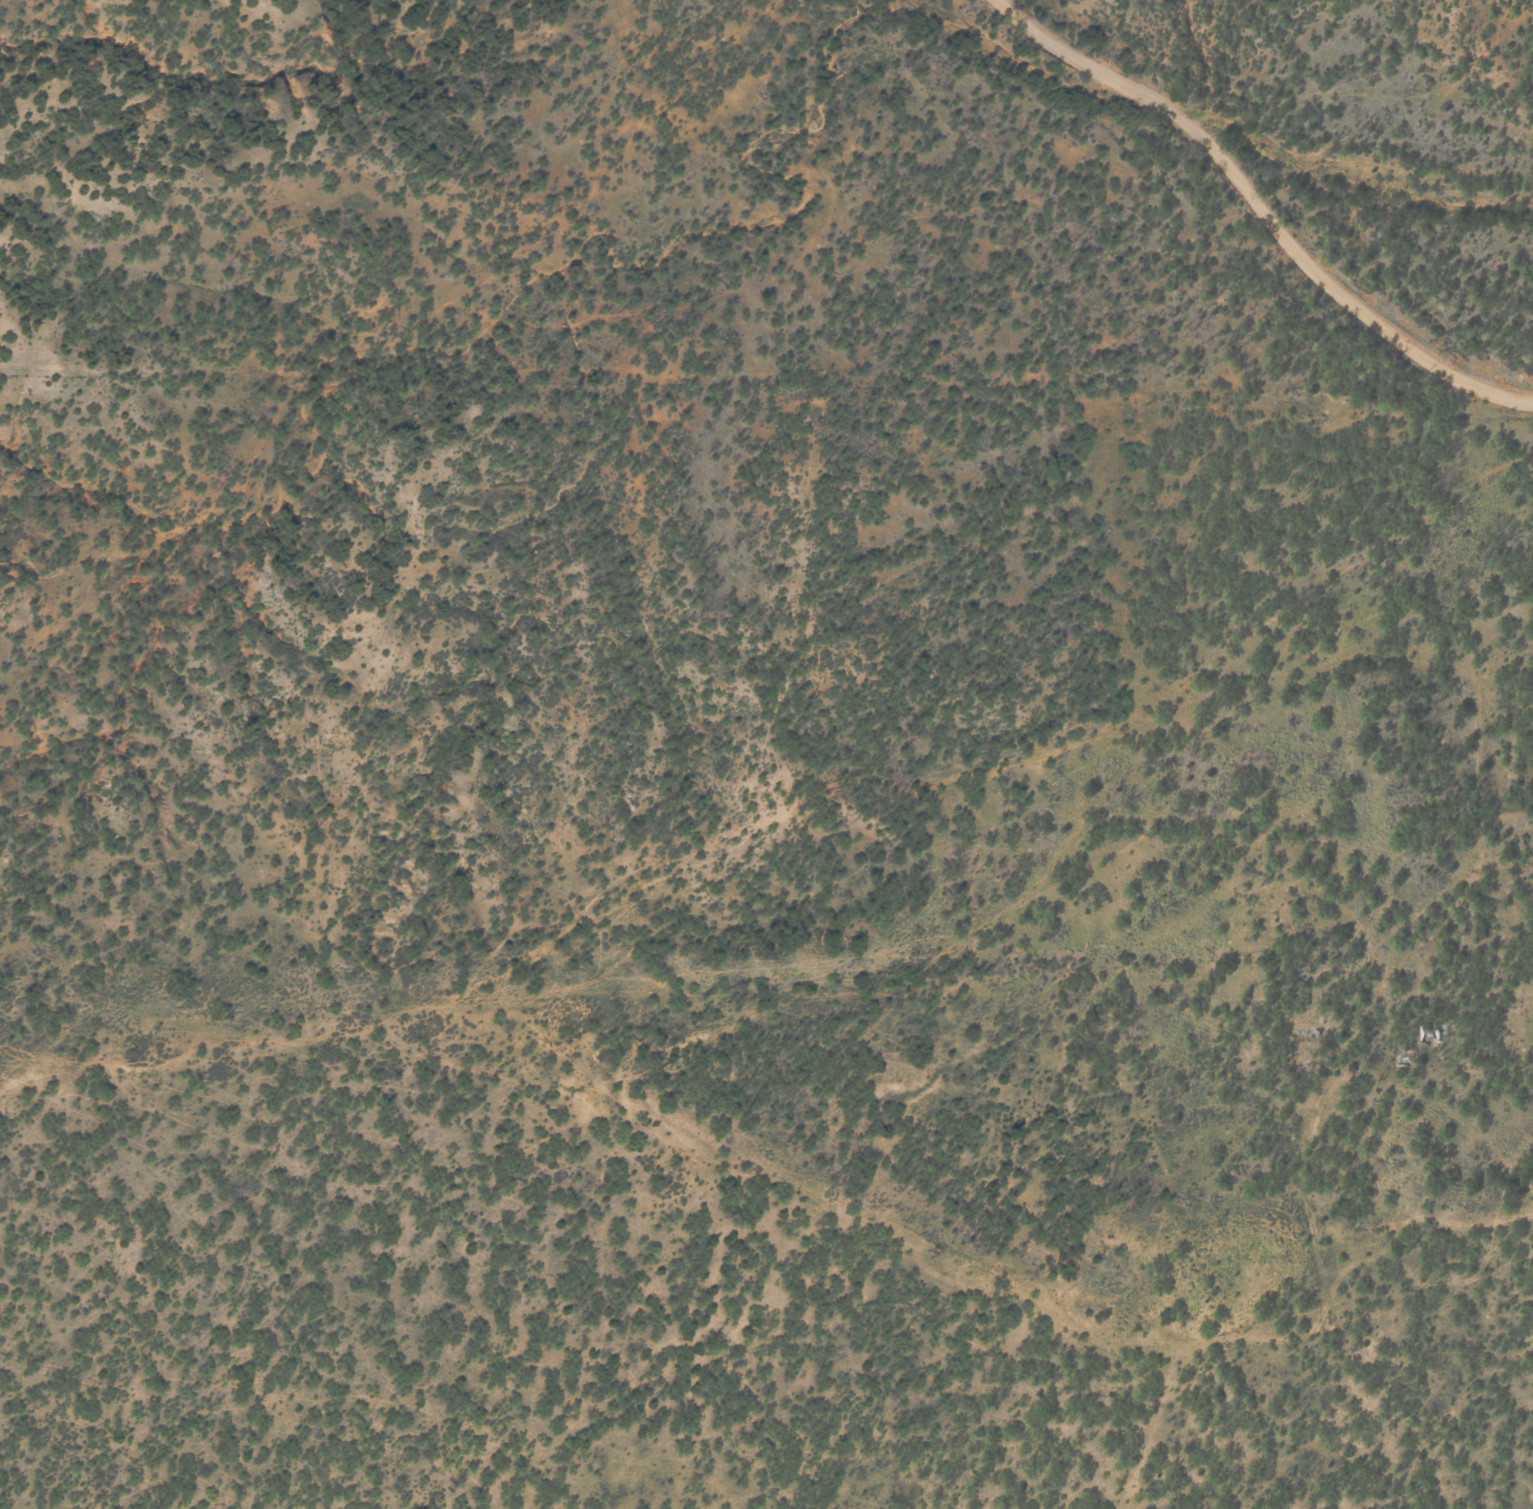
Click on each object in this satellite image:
road: (1265, 206)
road: (1479, 688)

